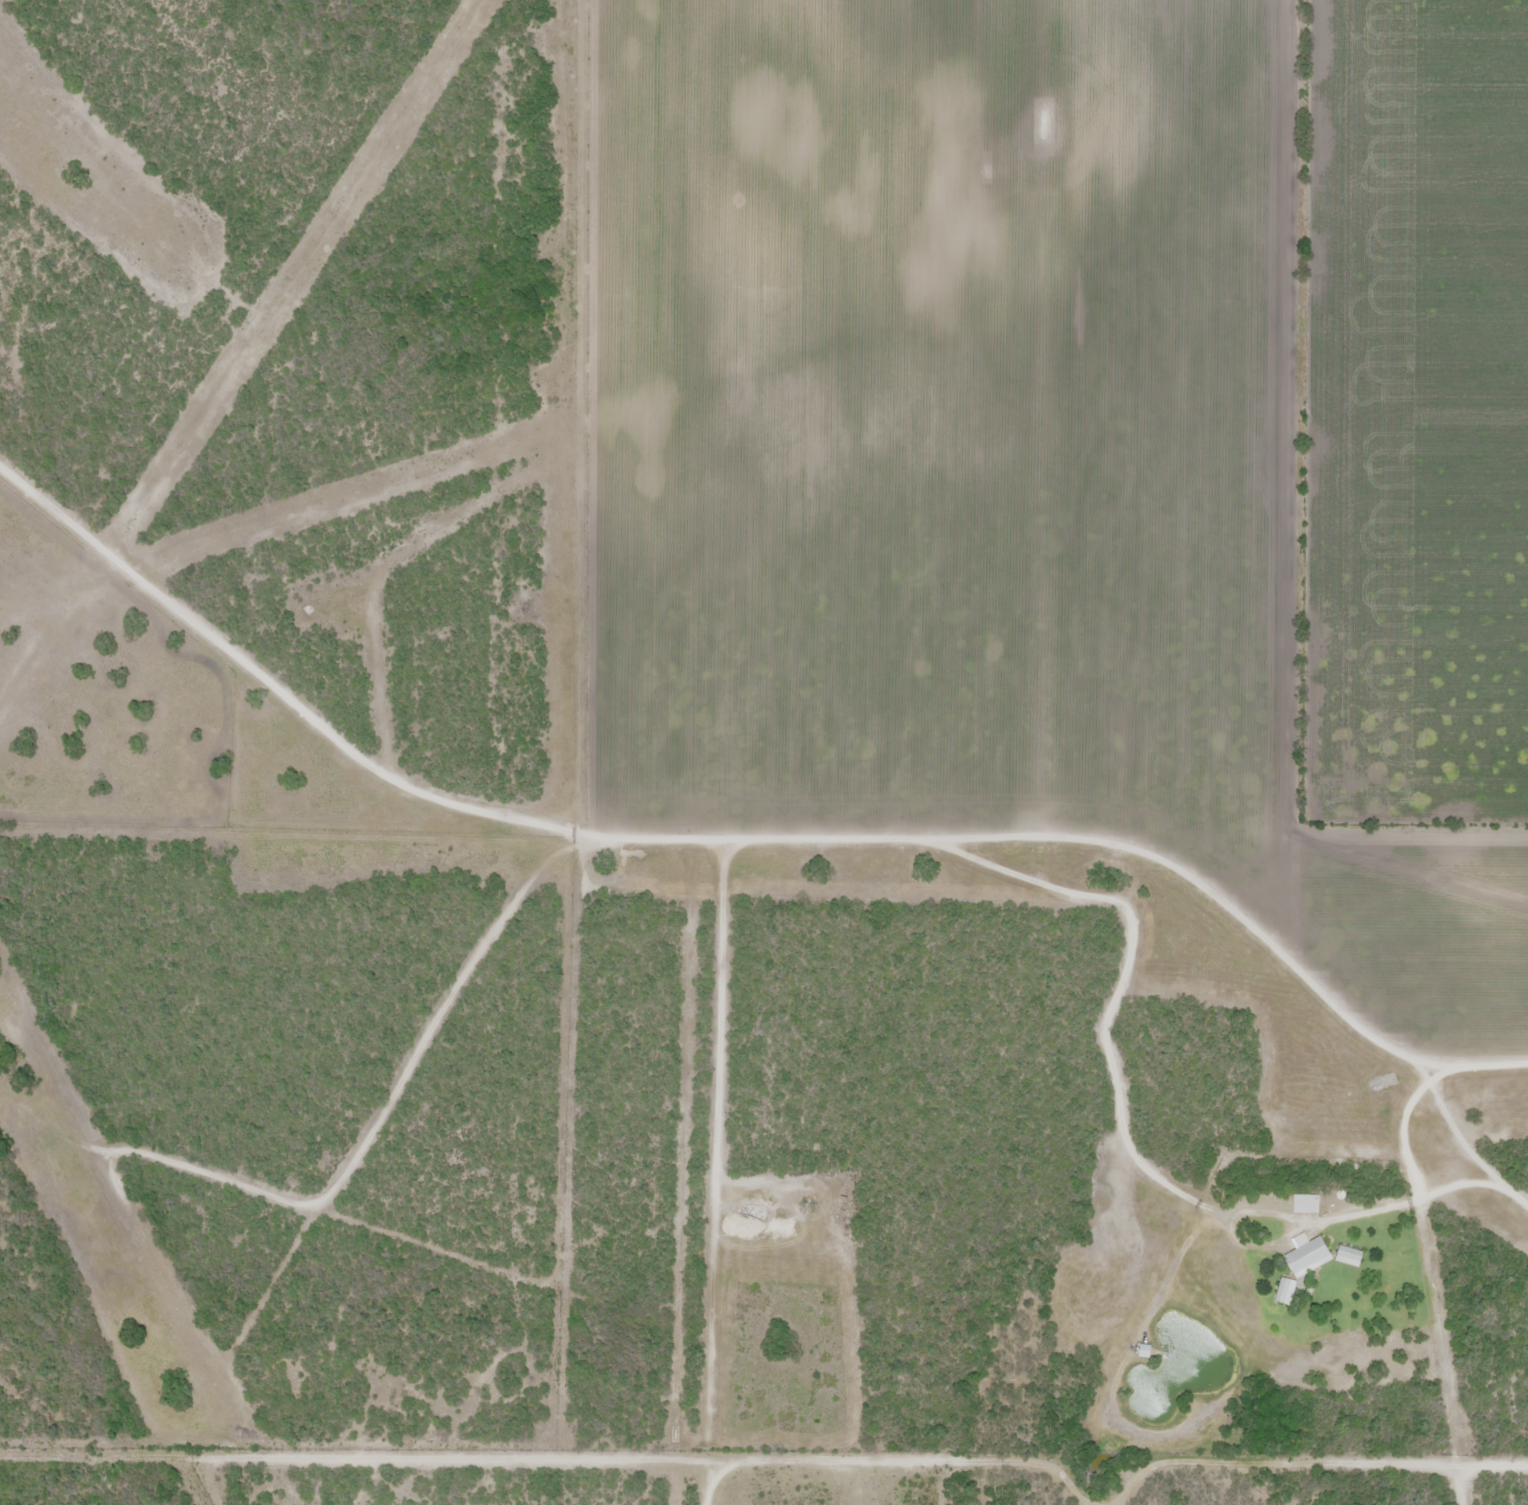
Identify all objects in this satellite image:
building: (1304, 1204)
building: (1306, 1255)
building: (1348, 1256)

